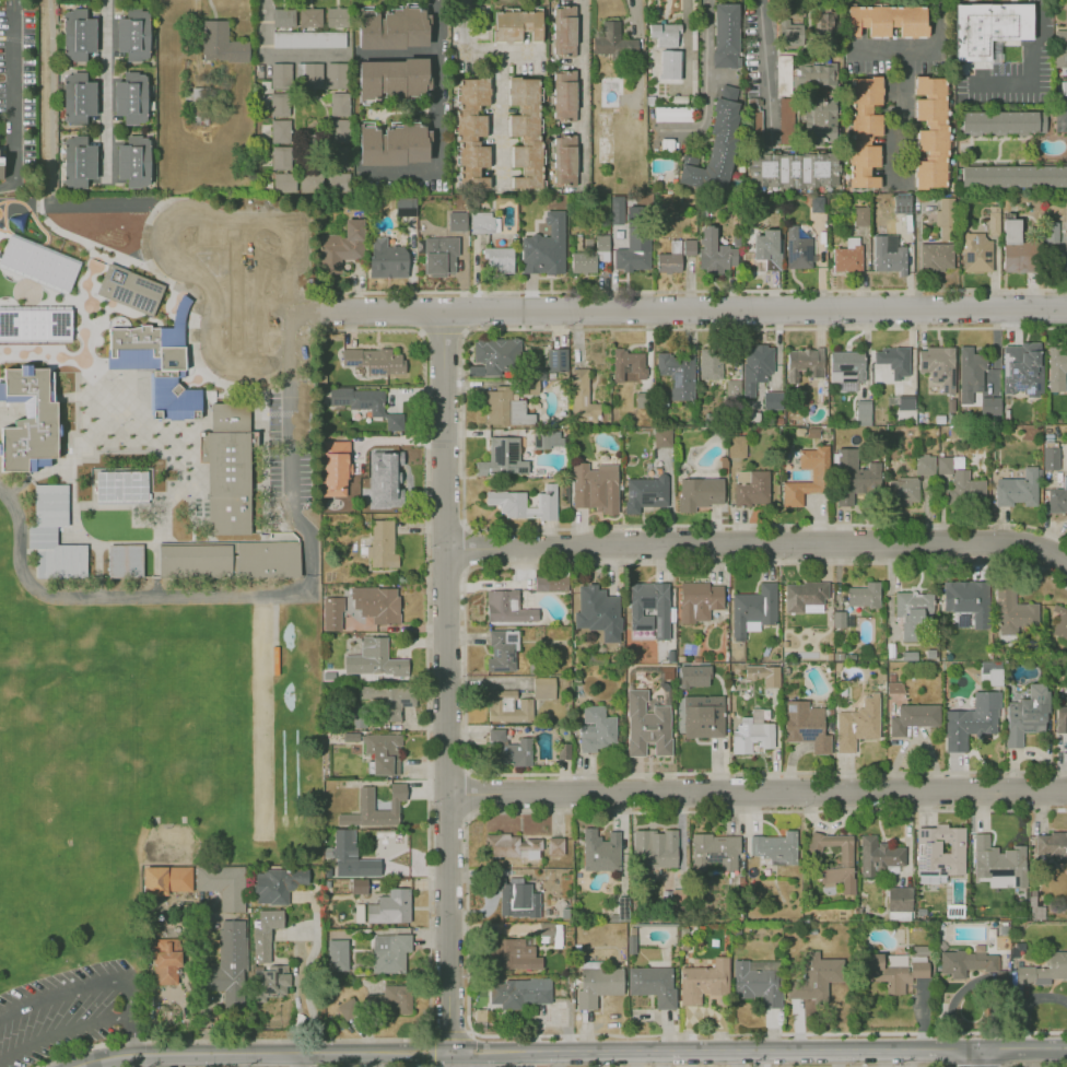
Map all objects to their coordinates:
building: (283, 16)
building: (309, 16)
building: (338, 16)
building: (889, 21)
building: (516, 24)
building: (824, 25)
road: (462, 26)
building: (987, 28)
building: (392, 30)
building: (564, 30)
building: (789, 31)
building: (130, 32)
building: (665, 33)
building: (727, 35)
building: (81, 37)
building: (309, 39)
building: (612, 40)
building: (222, 42)
road: (924, 45)
building: (1062, 49)
road: (504, 52)
road: (278, 55)
building: (670, 63)
road: (766, 63)
road: (1032, 69)
building: (816, 74)
building: (281, 77)
building: (312, 77)
building: (337, 77)
building: (391, 79)
road: (707, 84)
road: (106, 87)
building: (1065, 89)
building: (610, 90)
building: (80, 93)
road: (585, 93)
building: (131, 94)
road: (11, 95)
building: (565, 96)
building: (792, 101)
building: (279, 105)
building: (339, 105)
road: (902, 110)
building: (675, 114)
road: (501, 120)
building: (754, 120)
building: (820, 120)
building: (1004, 121)
road: (436, 125)
building: (525, 128)
building: (930, 131)
building: (281, 132)
building: (866, 132)
building: (339, 133)
building: (474, 134)
building: (607, 138)
building: (717, 143)
building: (395, 145)
building: (668, 145)
road: (56, 154)
building: (565, 159)
building: (132, 160)
building: (0, 161)
building: (281, 161)
building: (79, 162)
building: (342, 162)
building: (792, 171)
building: (1013, 176)
building: (282, 183)
building: (306, 183)
building: (338, 185)
building: (904, 201)
building: (817, 204)
building: (406, 207)
road: (176, 213)
building: (863, 214)
building: (995, 218)
building: (947, 220)
building: (457, 222)
building: (483, 222)
building: (531, 223)
building: (1052, 233)
building: (609, 243)
building: (676, 246)
building: (688, 247)
building: (348, 248)
building: (1017, 249)
building: (766, 250)
building: (799, 250)
building: (549, 253)
building: (713, 253)
building: (889, 253)
building: (977, 253)
building: (441, 254)
building: (642, 254)
building: (848, 256)
building: (936, 257)
building: (622, 259)
building: (1062, 259)
building: (499, 260)
building: (39, 262)
building: (585, 262)
building: (669, 262)
building: (390, 263)
road: (165, 279)
building: (129, 290)
road: (300, 290)
road: (695, 291)
road: (305, 313)
road: (693, 313)
building: (37, 325)
road: (765, 328)
road: (361, 329)
road: (442, 329)
road: (291, 330)
road: (464, 330)
road: (420, 331)
road: (207, 335)
road: (209, 336)
building: (375, 357)
building: (493, 357)
building: (556, 359)
road: (270, 361)
building: (893, 361)
building: (1057, 361)
building: (804, 362)
building: (630, 364)
building: (759, 364)
building: (712, 366)
building: (939, 366)
road: (201, 367)
building: (164, 368)
building: (846, 370)
building: (1023, 371)
building: (677, 373)
building: (971, 375)
building: (63, 380)
building: (530, 386)
building: (732, 388)
building: (583, 397)
building: (643, 400)
building: (773, 400)
building: (903, 406)
building: (376, 407)
building: (505, 408)
building: (990, 408)
building: (863, 412)
building: (28, 420)
building: (811, 433)
building: (663, 438)
building: (541, 441)
building: (350, 444)
building: (738, 446)
building: (1053, 456)
building: (504, 458)
building: (723, 460)
building: (925, 465)
building: (946, 466)
building: (335, 467)
building: (227, 468)
building: (818, 474)
building: (383, 477)
building: (847, 477)
road: (23, 483)
building: (595, 486)
building: (121, 489)
building: (1019, 489)
building: (977, 490)
building: (753, 491)
building: (904, 491)
building: (701, 492)
building: (645, 493)
building: (506, 499)
building: (1056, 500)
road: (669, 525)
building: (55, 535)
building: (383, 544)
road: (759, 544)
road: (465, 548)
building: (230, 560)
building: (126, 561)
building: (550, 582)
building: (806, 593)
road: (277, 597)
building: (866, 597)
building: (598, 600)
building: (963, 600)
building: (376, 601)
building: (699, 601)
building: (505, 606)
building: (650, 608)
building: (753, 608)
building: (1015, 612)
building: (335, 613)
building: (910, 613)
building: (840, 620)
building: (1057, 621)
building: (501, 655)
building: (374, 658)
road: (462, 665)
building: (763, 675)
building: (694, 676)
road: (450, 682)
building: (893, 687)
building: (547, 688)
building: (396, 701)
building: (495, 705)
building: (357, 716)
building: (1028, 716)
building: (914, 718)
building: (703, 720)
building: (976, 720)
building: (1062, 720)
building: (859, 724)
building: (810, 725)
building: (649, 728)
building: (597, 730)
building: (757, 736)
building: (511, 750)
building: (385, 753)
park: (137, 788)
road: (760, 788)
road: (467, 792)
building: (367, 806)
road: (658, 811)
building: (1052, 844)
building: (342, 845)
building: (555, 845)
building: (502, 846)
building: (774, 846)
building: (716, 849)
building: (946, 849)
building: (601, 851)
building: (654, 853)
building: (877, 854)
building: (842, 861)
building: (998, 861)
building: (347, 868)
building: (328, 872)
building: (165, 879)
road: (427, 881)
building: (277, 886)
building: (225, 887)
building: (357, 887)
building: (520, 898)
building: (900, 899)
building: (390, 907)
building: (622, 908)
building: (266, 933)
building: (549, 933)
building: (512, 952)
building: (389, 954)
building: (338, 957)
building: (167, 963)
building: (230, 964)
building: (955, 964)
building: (1058, 964)
building: (826, 969)
building: (896, 971)
building: (1023, 973)
building: (755, 980)
road: (102, 981)
building: (654, 982)
building: (703, 982)
building: (271, 984)
building: (595, 987)
building: (517, 992)
building: (399, 998)
road: (1023, 1004)
building: (349, 1008)
parking lot: (69, 1011)
road: (65, 1031)
road: (431, 1033)
road: (767, 1033)
road: (761, 1052)
road: (263, 1053)
road: (300, 1059)
road: (524, 1059)
road: (976, 1059)
road: (876, 1066)
road: (1032, 1066)

